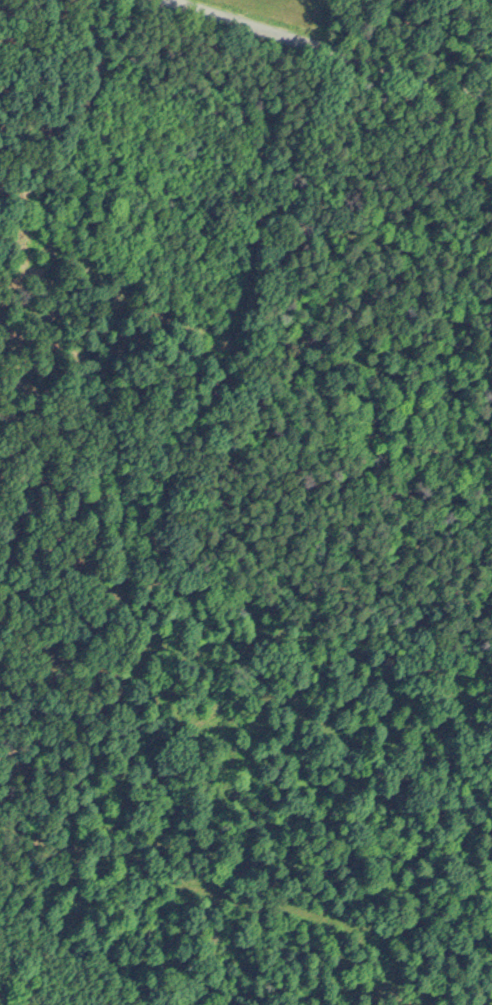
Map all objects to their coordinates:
crop: (296, 7)
road: (326, 50)

